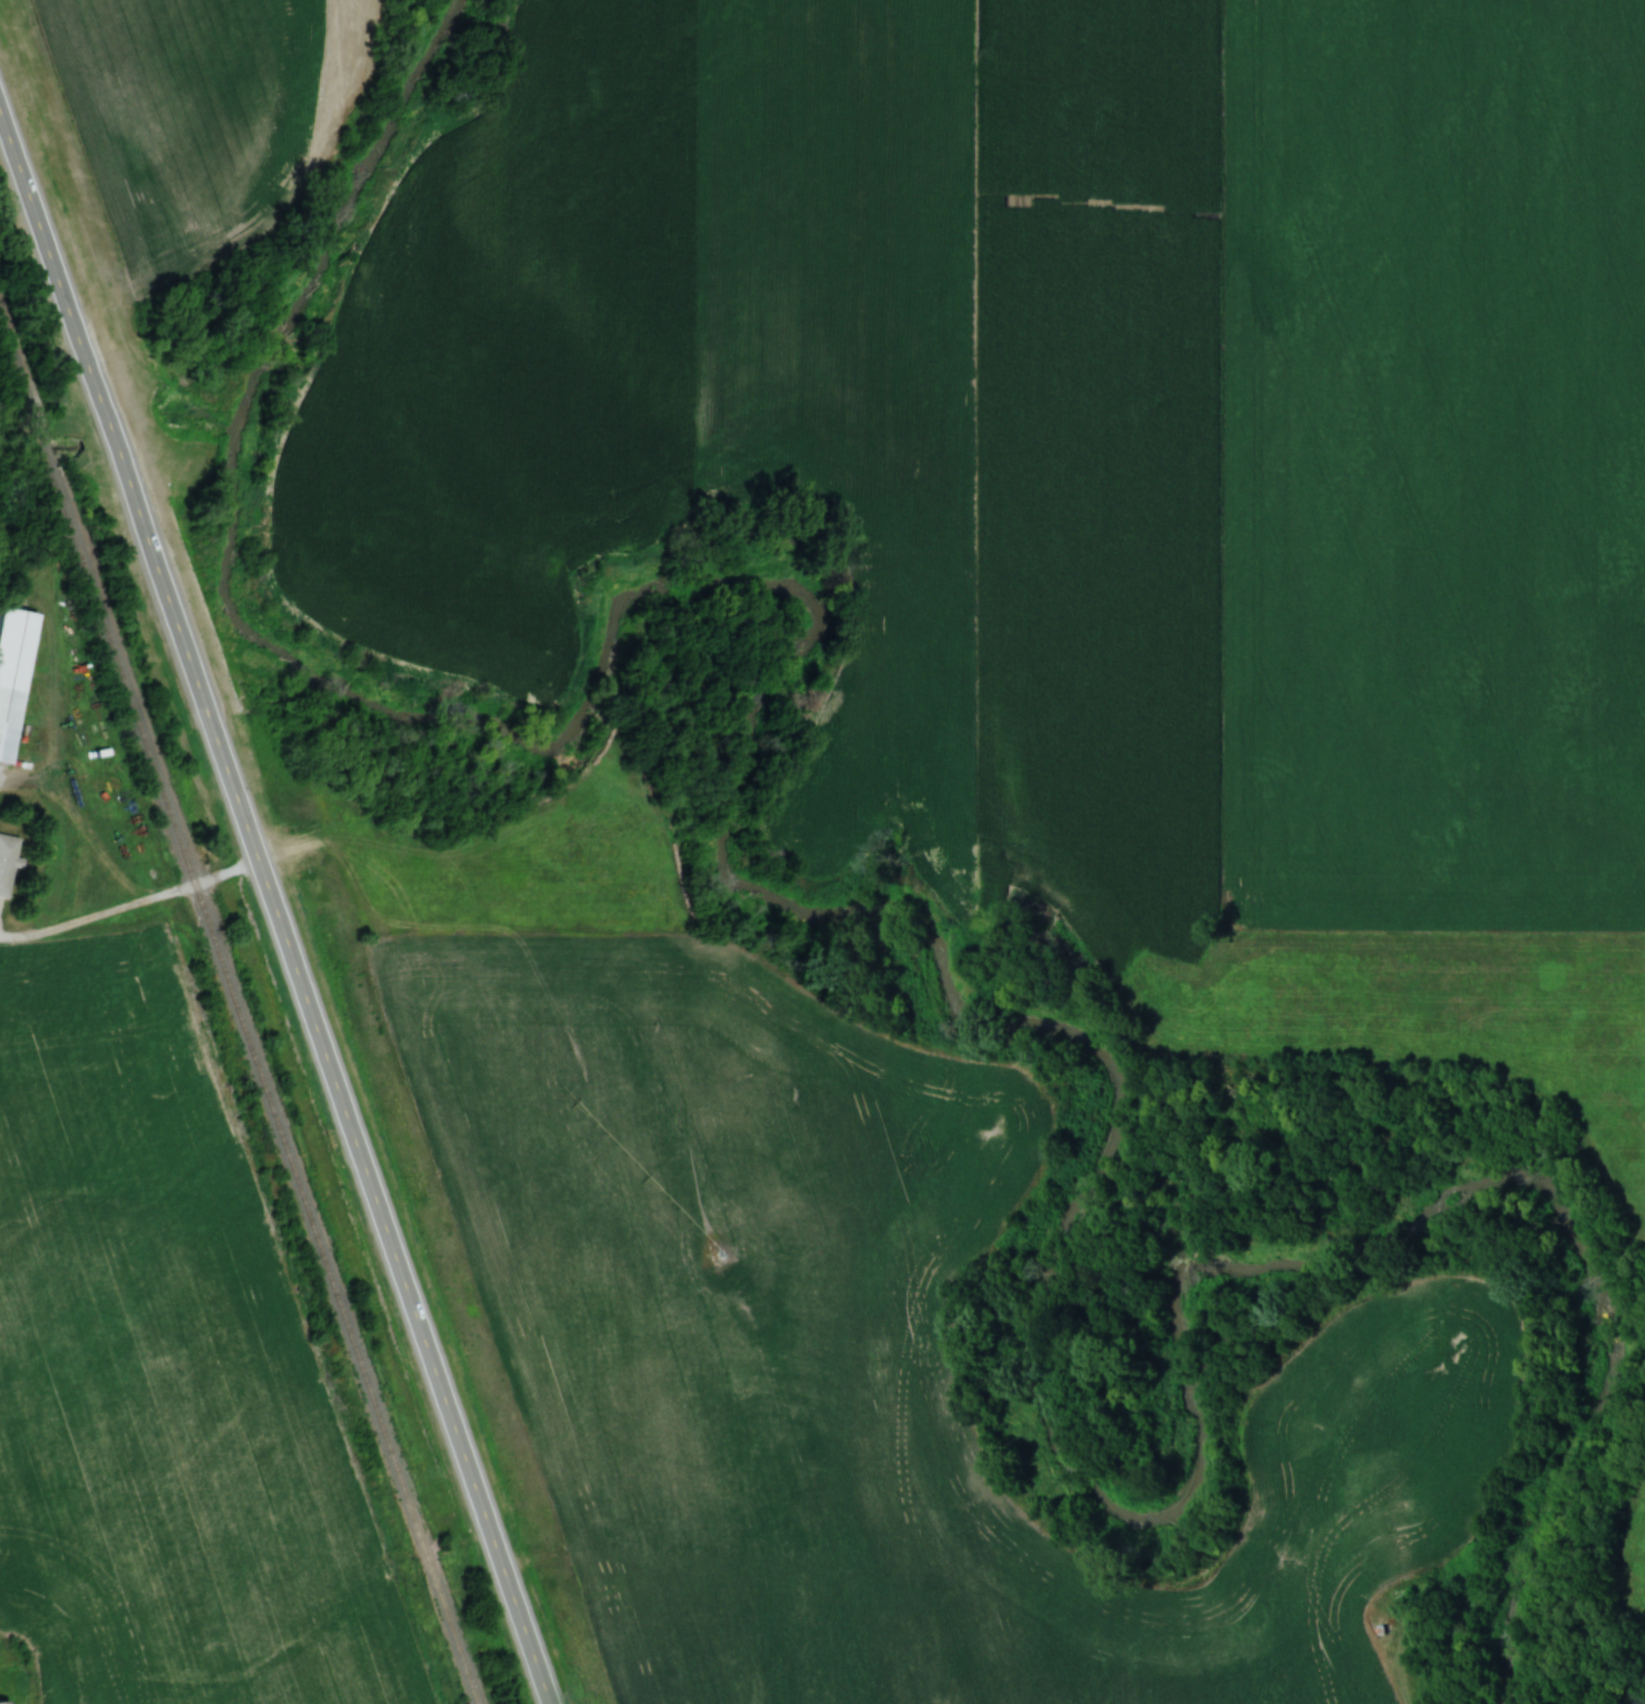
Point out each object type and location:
crop: (185, 117)
building: (12, 671)
building: (6, 863)
road: (130, 902)
road: (274, 903)
river: (917, 950)
railway: (239, 1009)
building: (3, 1703)

